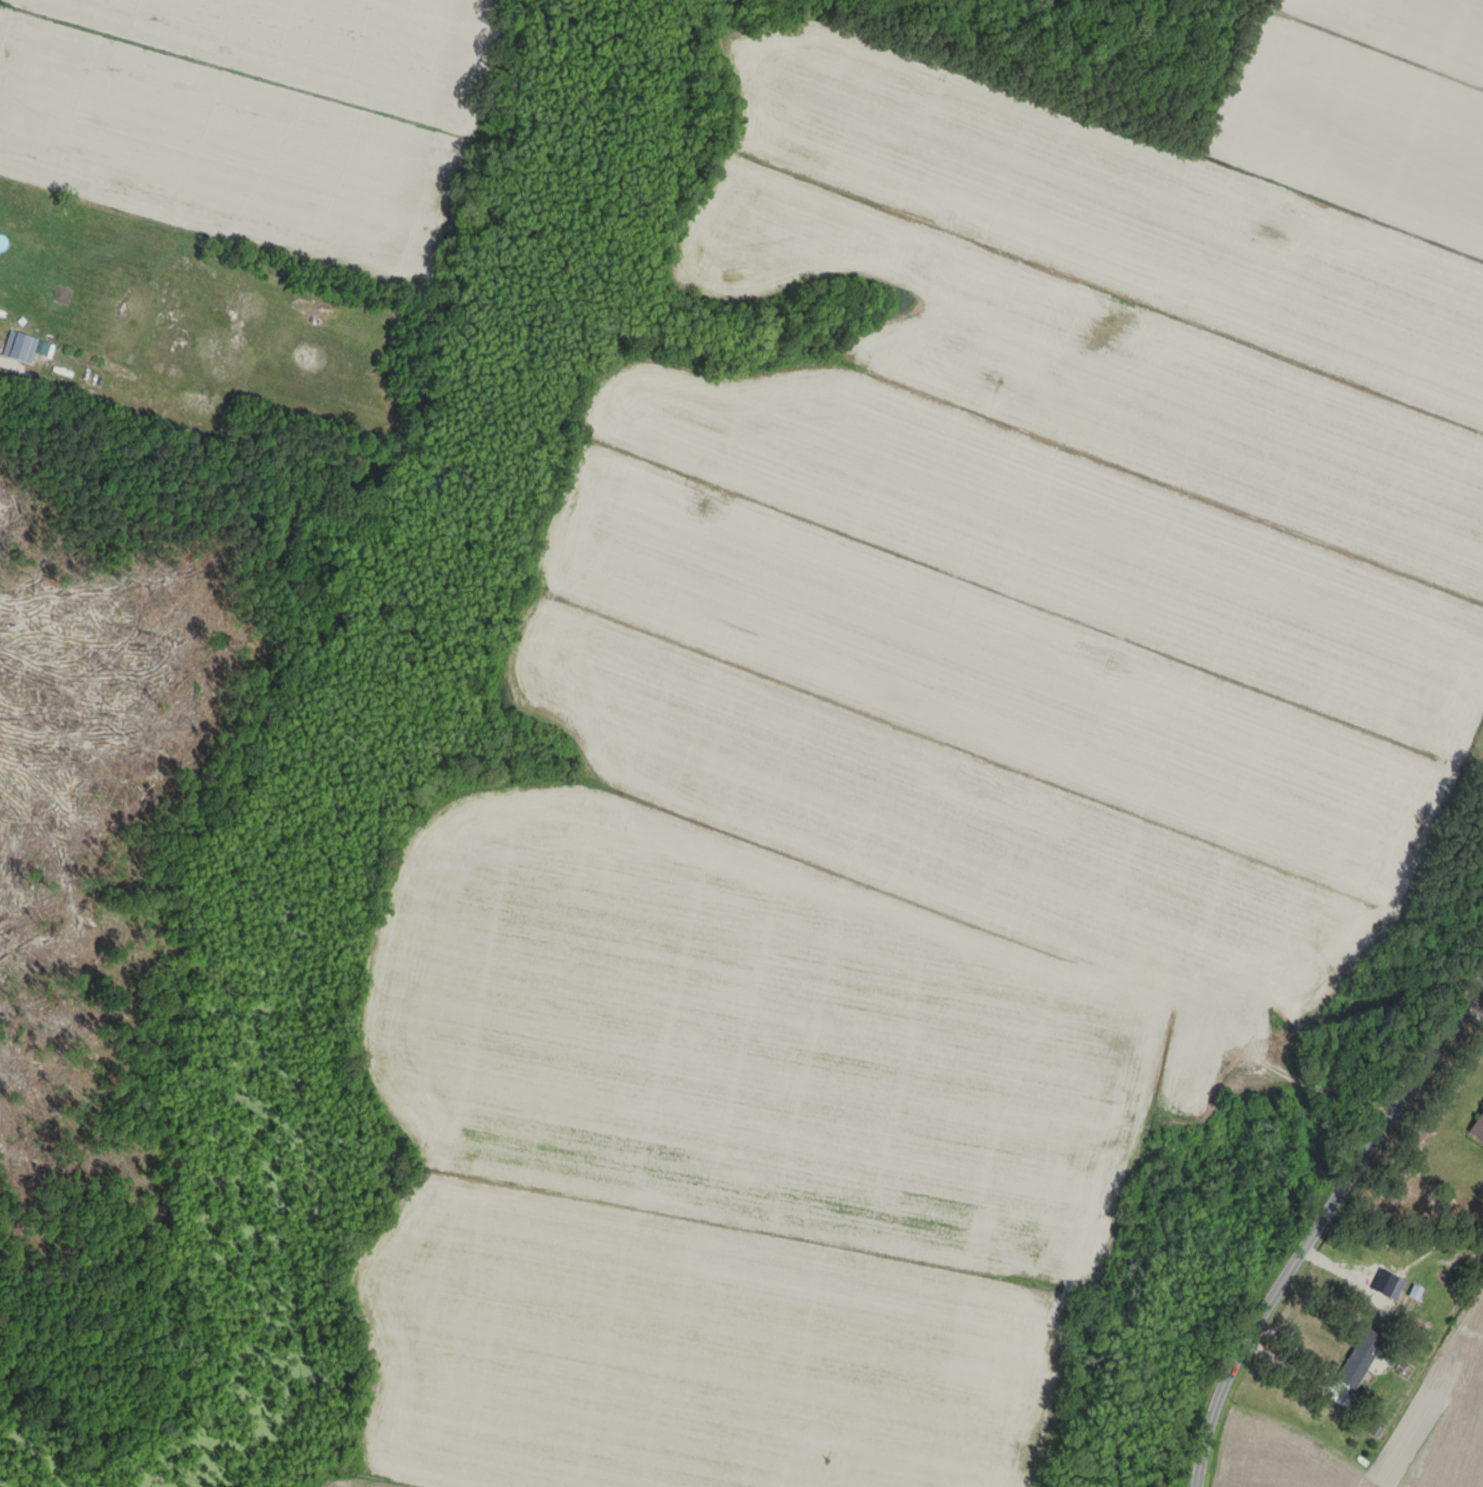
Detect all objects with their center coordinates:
building: (16, 197)
building: (1477, 1128)
road: (1318, 1221)
building: (1359, 1359)

